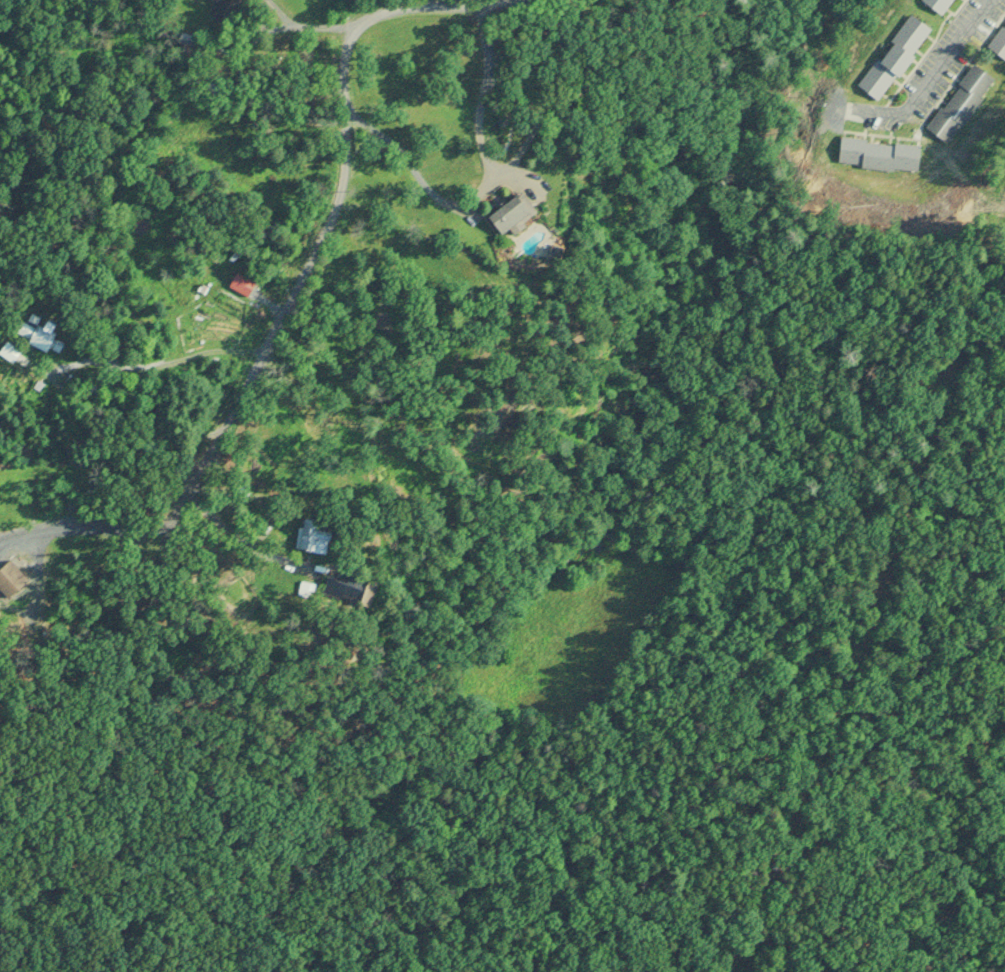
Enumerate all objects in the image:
building: (939, 5)
building: (999, 43)
building: (893, 57)
road: (934, 79)
building: (960, 104)
building: (879, 155)
building: (506, 217)
road: (336, 220)

